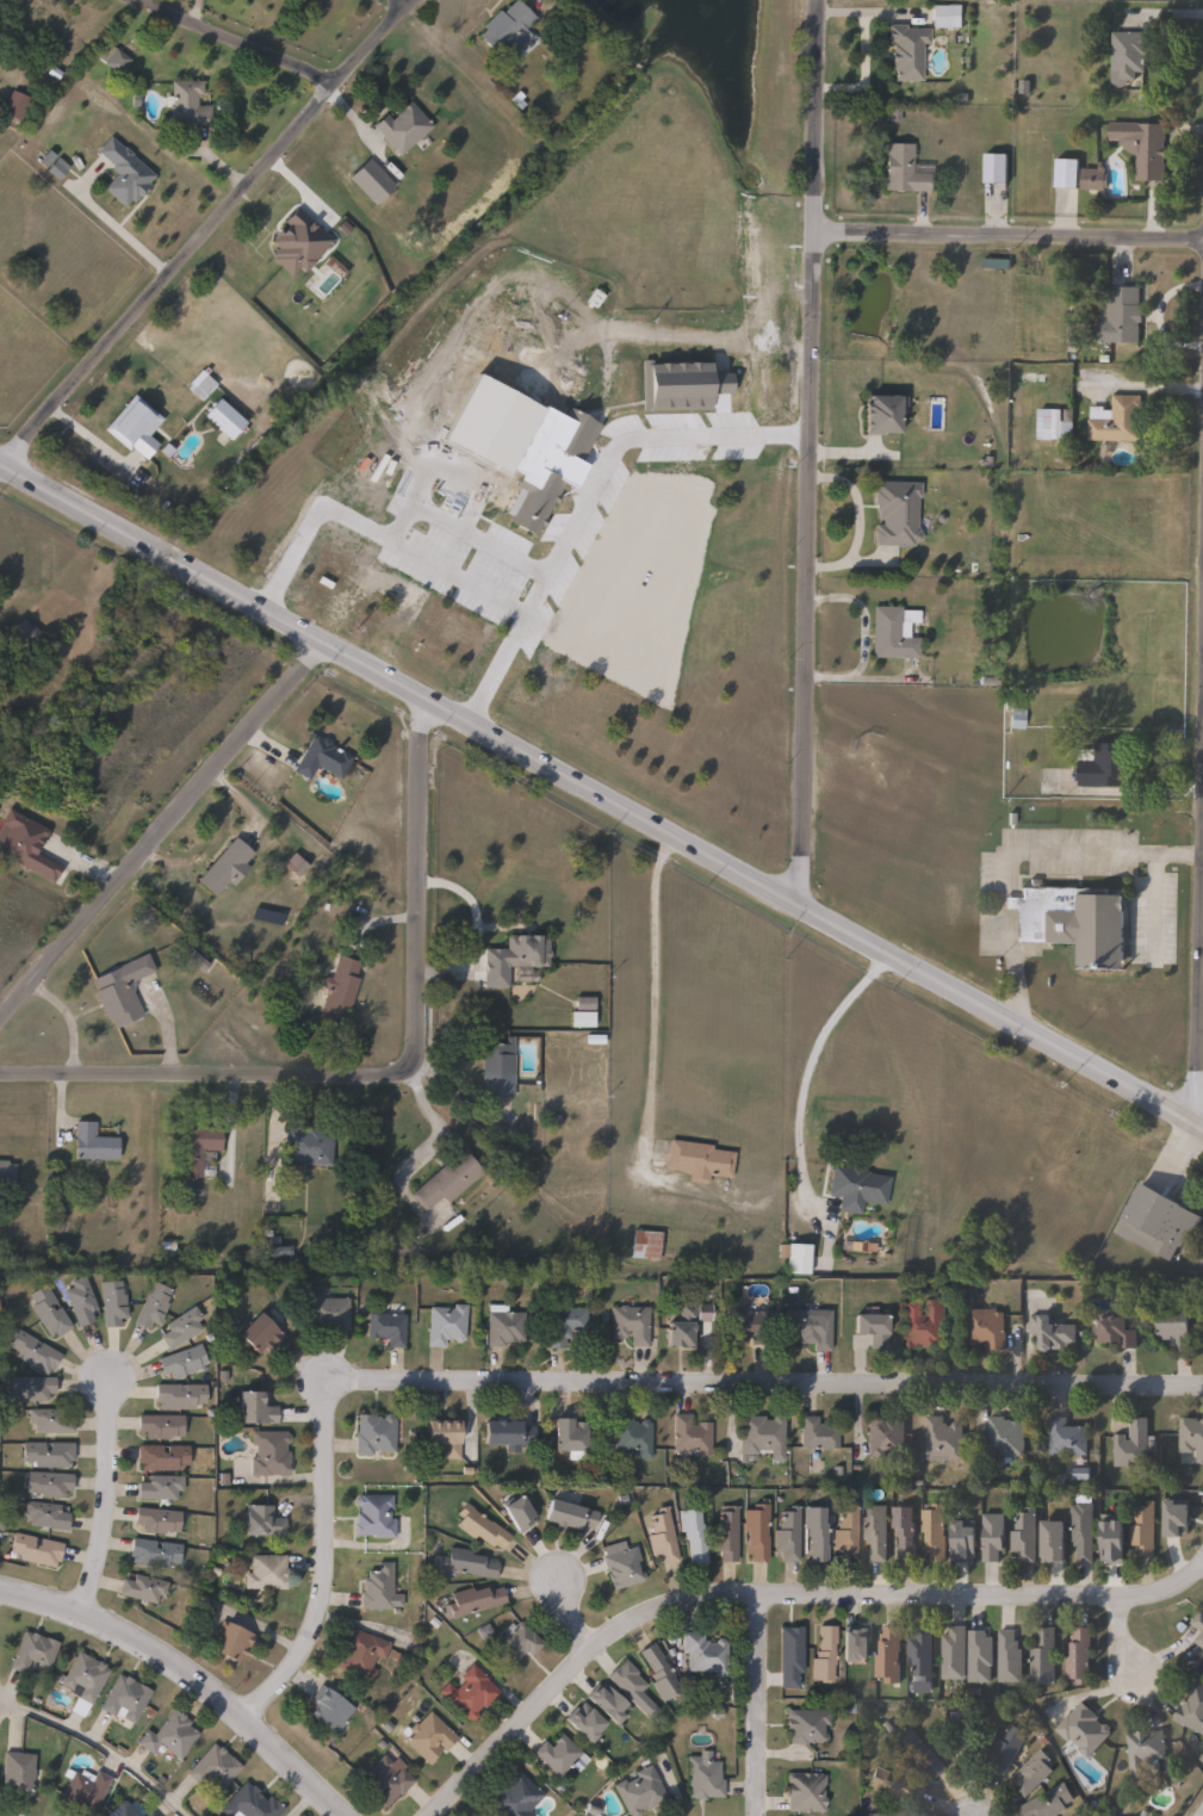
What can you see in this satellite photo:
road: (407, 1)
building: (947, 16)
building: (506, 27)
road: (238, 41)
building: (905, 49)
building: (1127, 55)
building: (112, 58)
building: (186, 103)
building: (13, 104)
building: (401, 126)
building: (1143, 148)
building: (996, 167)
building: (904, 168)
building: (122, 172)
building: (1066, 173)
building: (1093, 179)
building: (370, 180)
road: (114, 227)
road: (205, 230)
road: (1009, 233)
building: (994, 264)
building: (1120, 316)
building: (1034, 378)
building: (682, 386)
building: (881, 414)
building: (221, 419)
building: (1115, 421)
building: (1053, 424)
building: (131, 426)
road: (806, 452)
road: (0, 463)
building: (546, 475)
road: (588, 498)
building: (895, 513)
road: (458, 531)
road: (373, 534)
building: (23, 631)
building: (894, 632)
building: (1016, 719)
building: (321, 758)
building: (1104, 766)
road: (601, 794)
road: (159, 820)
building: (23, 845)
road: (1012, 849)
building: (224, 866)
road: (415, 873)
road: (1199, 916)
building: (1072, 923)
road: (1201, 938)
building: (519, 950)
building: (336, 987)
building: (118, 990)
road: (651, 994)
building: (581, 1017)
road: (203, 1066)
building: (495, 1070)
road: (807, 1083)
building: (91, 1141)
road: (433, 1141)
building: (308, 1145)
building: (196, 1146)
building: (697, 1159)
building: (6, 1174)
building: (446, 1178)
building: (856, 1188)
building: (1154, 1221)
building: (645, 1244)
building: (985, 1244)
building: (402, 1247)
building: (275, 1252)
building: (796, 1258)
building: (79, 1300)
building: (111, 1302)
building: (150, 1306)
building: (325, 1310)
building: (45, 1312)
building: (446, 1324)
building: (628, 1324)
building: (684, 1324)
building: (503, 1325)
building: (563, 1325)
building: (748, 1325)
building: (924, 1325)
building: (179, 1327)
building: (385, 1327)
building: (808, 1327)
building: (872, 1328)
building: (984, 1328)
building: (1173, 1330)
building: (1115, 1332)
building: (1050, 1333)
building: (259, 1335)
building: (31, 1351)
building: (180, 1361)
road: (579, 1381)
building: (29, 1387)
building: (176, 1395)
building: (252, 1409)
building: (48, 1420)
building: (156, 1426)
building: (504, 1433)
building: (816, 1433)
building: (372, 1434)
building: (689, 1434)
building: (631, 1436)
building: (883, 1436)
building: (442, 1437)
building: (759, 1437)
building: (1003, 1437)
building: (1190, 1437)
building: (566, 1438)
building: (1065, 1438)
building: (942, 1439)
building: (1131, 1445)
building: (268, 1452)
building: (45, 1454)
building: (159, 1457)
building: (45, 1483)
building: (157, 1487)
road: (106, 1492)
building: (513, 1513)
building: (43, 1516)
building: (372, 1516)
building: (565, 1516)
building: (154, 1520)
building: (1173, 1520)
building: (259, 1521)
building: (478, 1527)
building: (755, 1531)
building: (875, 1531)
building: (1081, 1531)
building: (1142, 1531)
building: (814, 1532)
building: (903, 1532)
building: (934, 1532)
building: (690, 1535)
building: (725, 1535)
building: (786, 1535)
building: (844, 1535)
building: (992, 1536)
building: (1024, 1536)
building: (659, 1537)
building: (961, 1541)
building: (1052, 1541)
building: (33, 1549)
building: (151, 1552)
building: (465, 1563)
road: (1202, 1564)
building: (621, 1568)
building: (263, 1573)
building: (141, 1588)
building: (377, 1588)
road: (771, 1593)
building: (472, 1599)
road: (569, 1601)
building: (1198, 1625)
building: (515, 1642)
building: (856, 1642)
road: (1116, 1642)
building: (231, 1643)
building: (32, 1653)
building: (920, 1653)
building: (359, 1654)
building: (953, 1654)
building: (703, 1655)
building: (823, 1655)
building: (888, 1655)
building: (789, 1656)
building: (1042, 1656)
building: (979, 1657)
building: (1079, 1657)
building: (1009, 1659)
road: (190, 1672)
building: (658, 1673)
building: (82, 1678)
building: (630, 1688)
building: (467, 1693)
building: (122, 1698)
building: (606, 1704)
road: (750, 1705)
building: (1191, 1709)
building: (328, 1711)
building: (583, 1724)
building: (805, 1725)
building: (1083, 1730)
building: (966, 1735)
building: (167, 1736)
building: (427, 1737)
road: (97, 1746)
building: (1006, 1748)
building: (1143, 1753)
building: (919, 1754)
building: (554, 1755)
building: (212, 1768)
building: (1033, 1773)
building: (15, 1774)
building: (385, 1779)
building: (702, 1779)
building: (891, 1785)
building: (83, 1790)
building: (639, 1791)
building: (804, 1792)
building: (513, 1797)
road: (302, 1802)
building: (247, 1803)
building: (1049, 1803)
building: (120, 1810)
building: (888, 1812)
building: (148, 1814)

